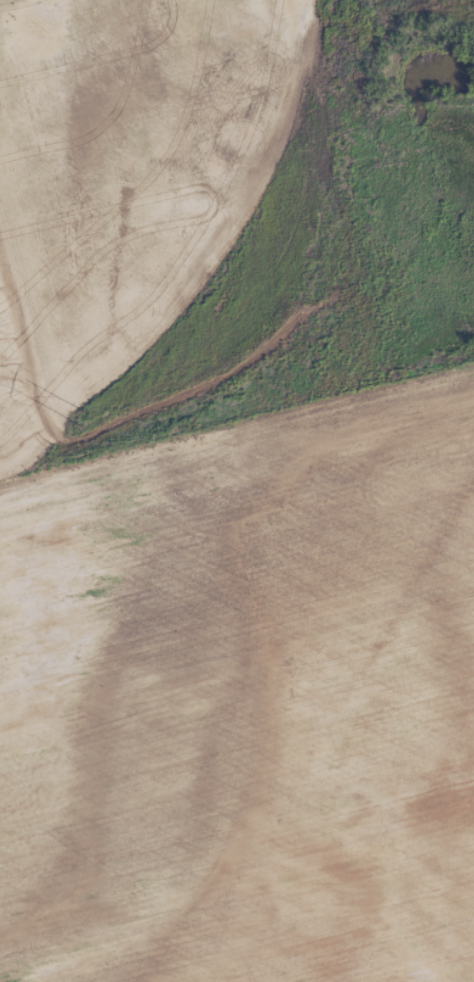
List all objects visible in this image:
power tower: (94, 422)

